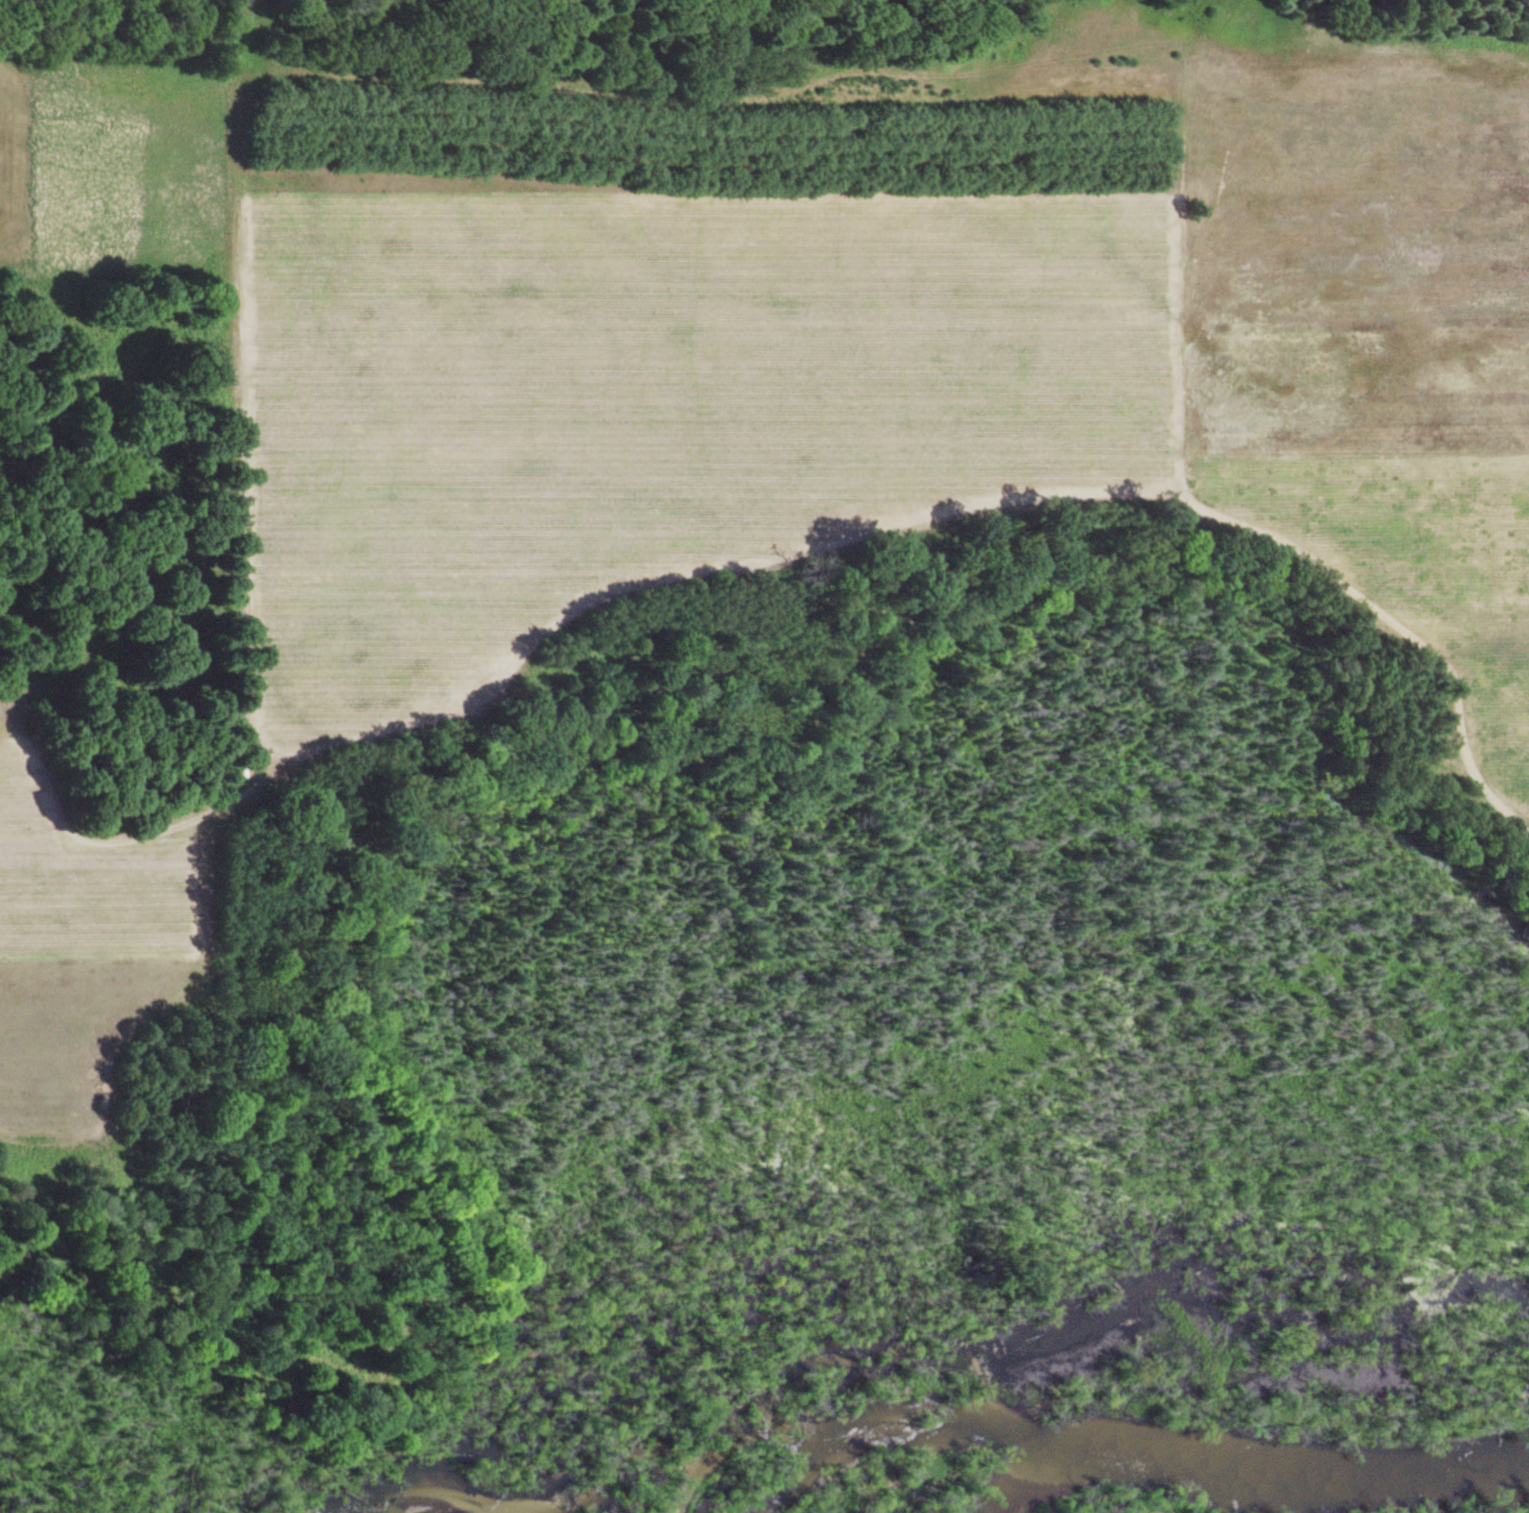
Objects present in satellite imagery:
river: (1252, 1462)

